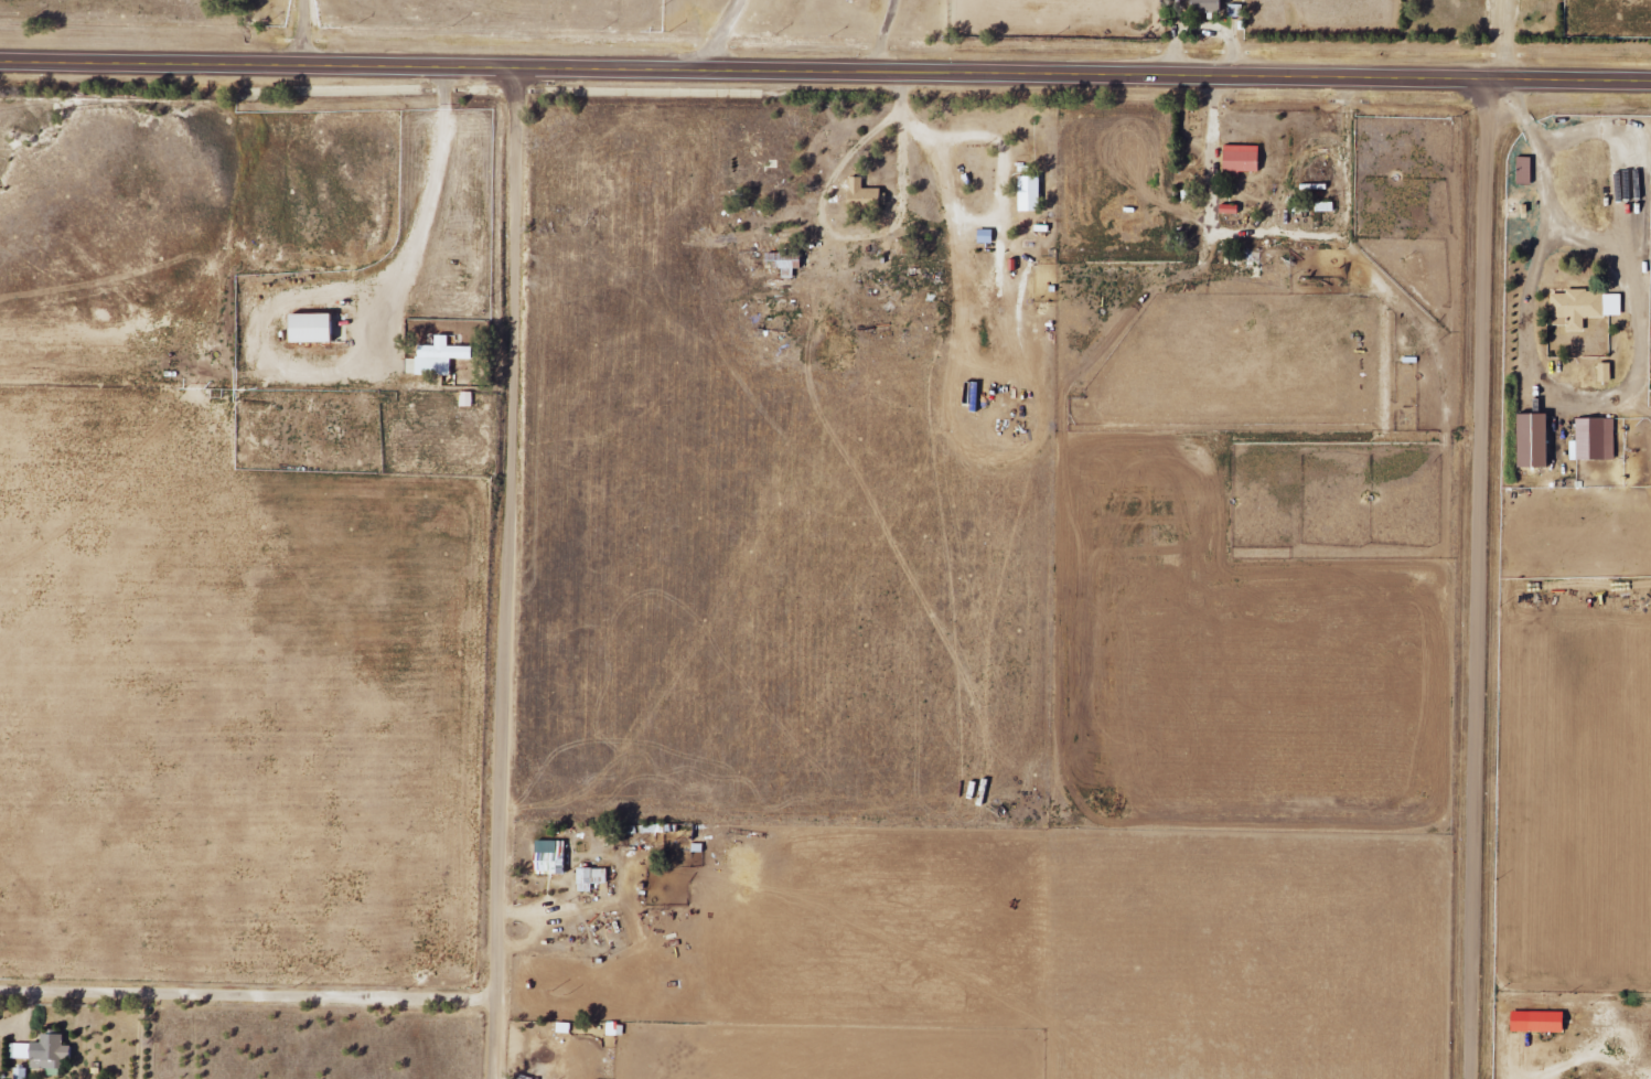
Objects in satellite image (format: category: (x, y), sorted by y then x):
building: (1210, 7)
road: (825, 74)
building: (1245, 160)
building: (869, 193)
building: (1034, 194)
building: (1616, 306)
building: (1579, 309)
building: (317, 329)
building: (443, 360)
building: (1608, 373)
building: (1537, 441)
building: (1597, 441)
road: (510, 533)
road: (1480, 580)
building: (554, 857)
building: (594, 878)
road: (248, 1002)
building: (1, 1014)
building: (1542, 1023)
road: (501, 1041)
building: (47, 1053)
building: (24, 1073)

